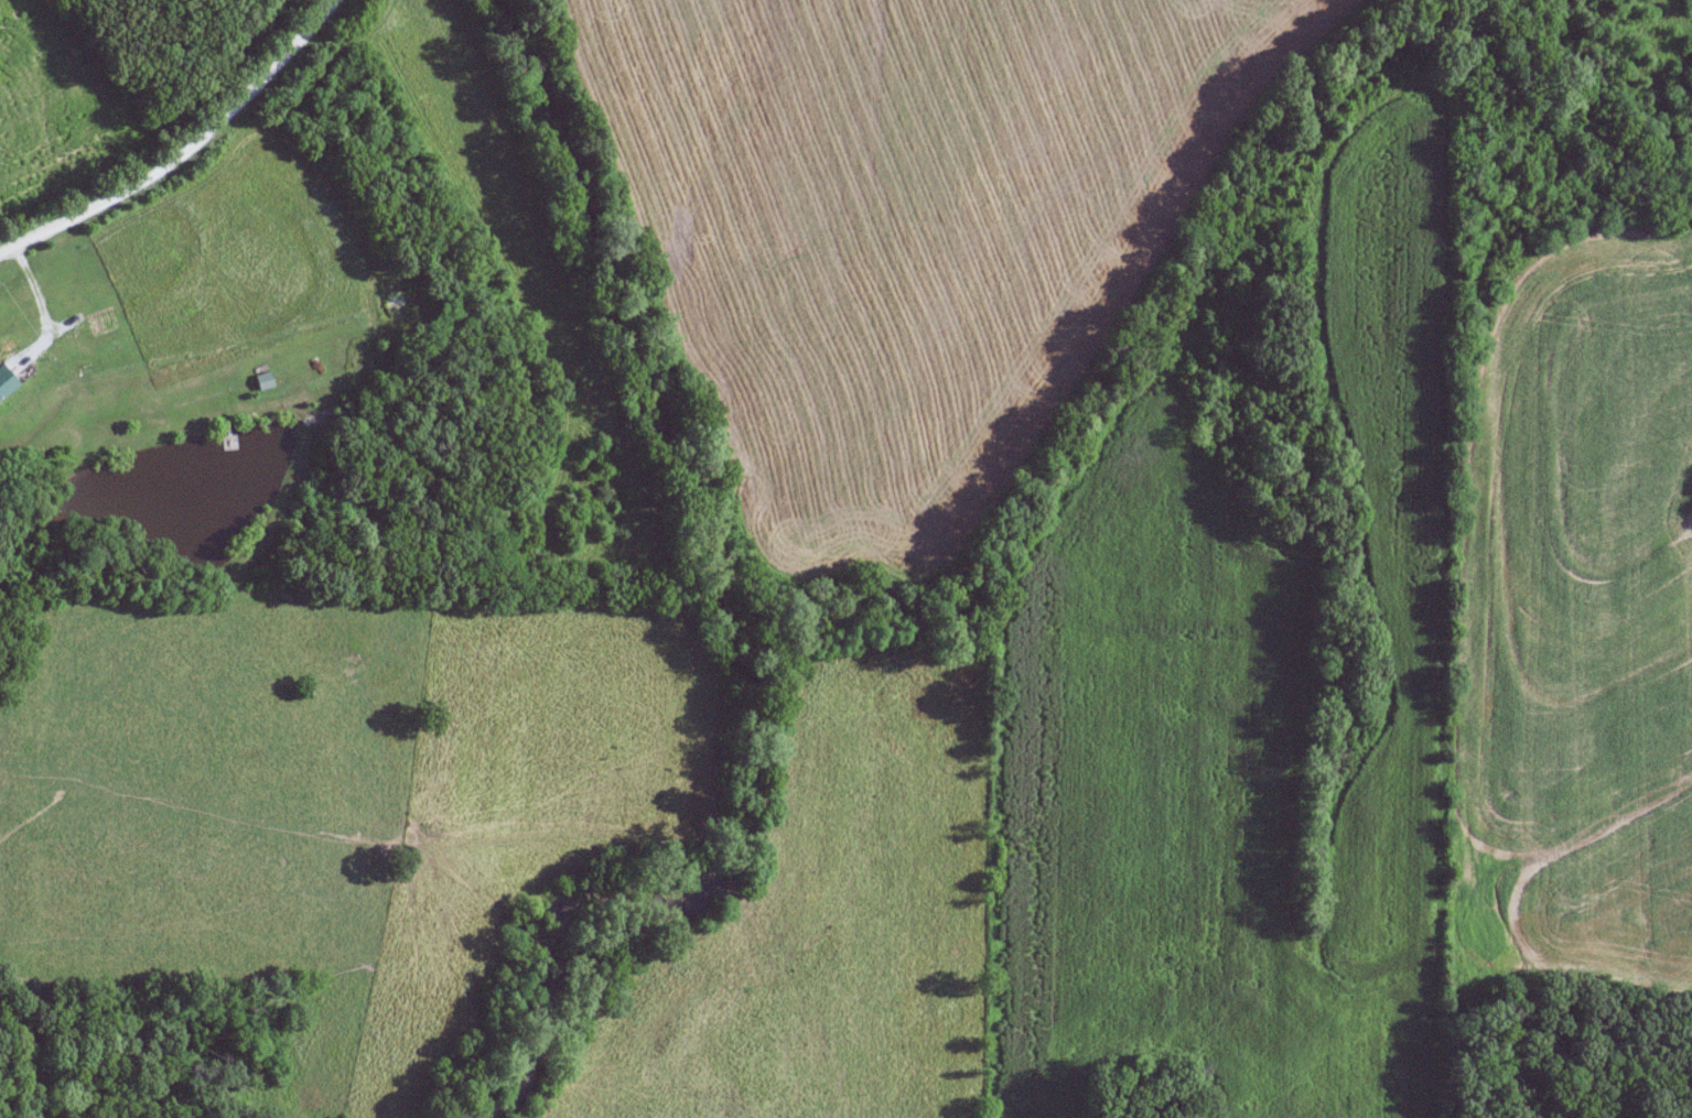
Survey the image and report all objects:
road: (185, 149)
building: (260, 381)

